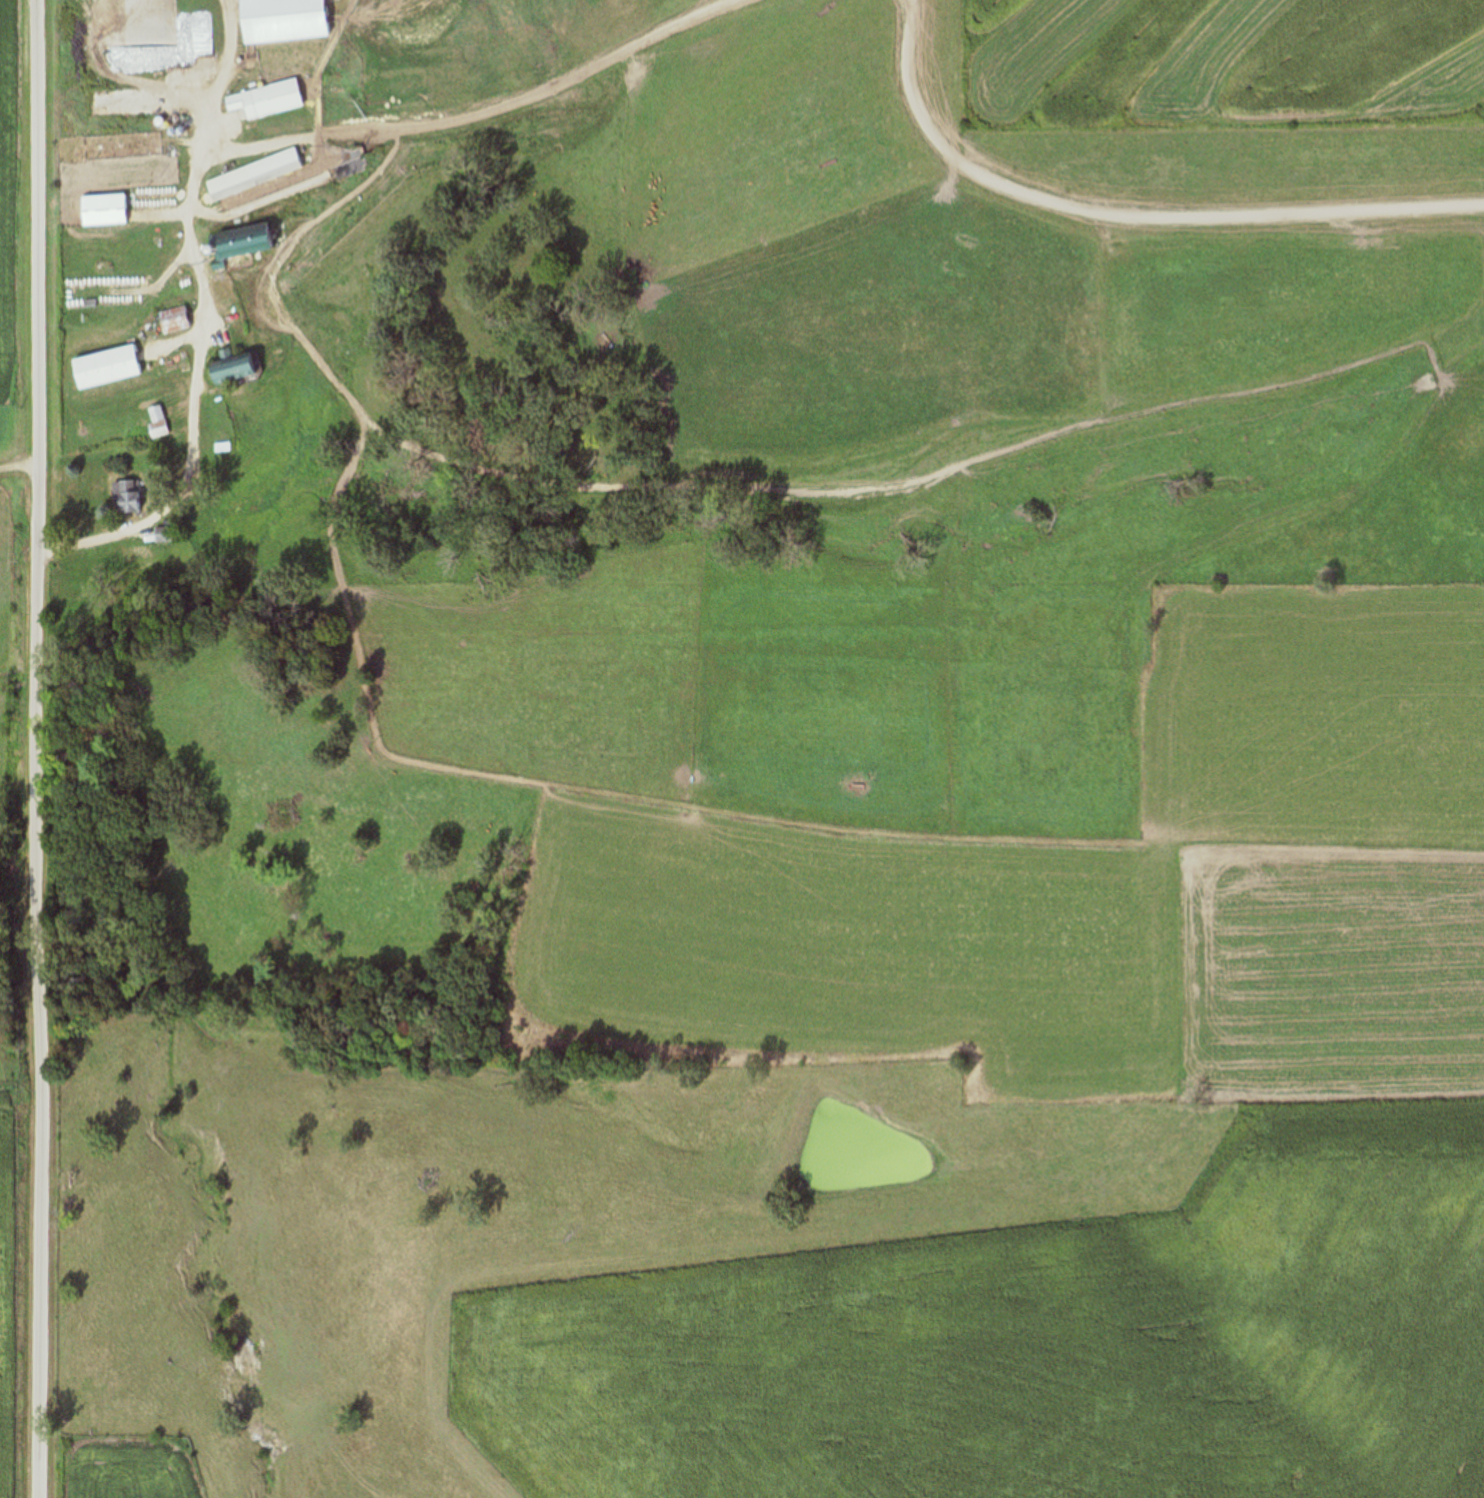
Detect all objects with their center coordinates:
building: (280, 25)
building: (263, 100)
building: (122, 146)
building: (251, 175)
building: (102, 210)
building: (240, 240)
building: (172, 321)
building: (104, 367)
building: (229, 369)
building: (155, 423)
building: (220, 448)
building: (124, 498)
building: (162, 535)
road: (39, 749)

